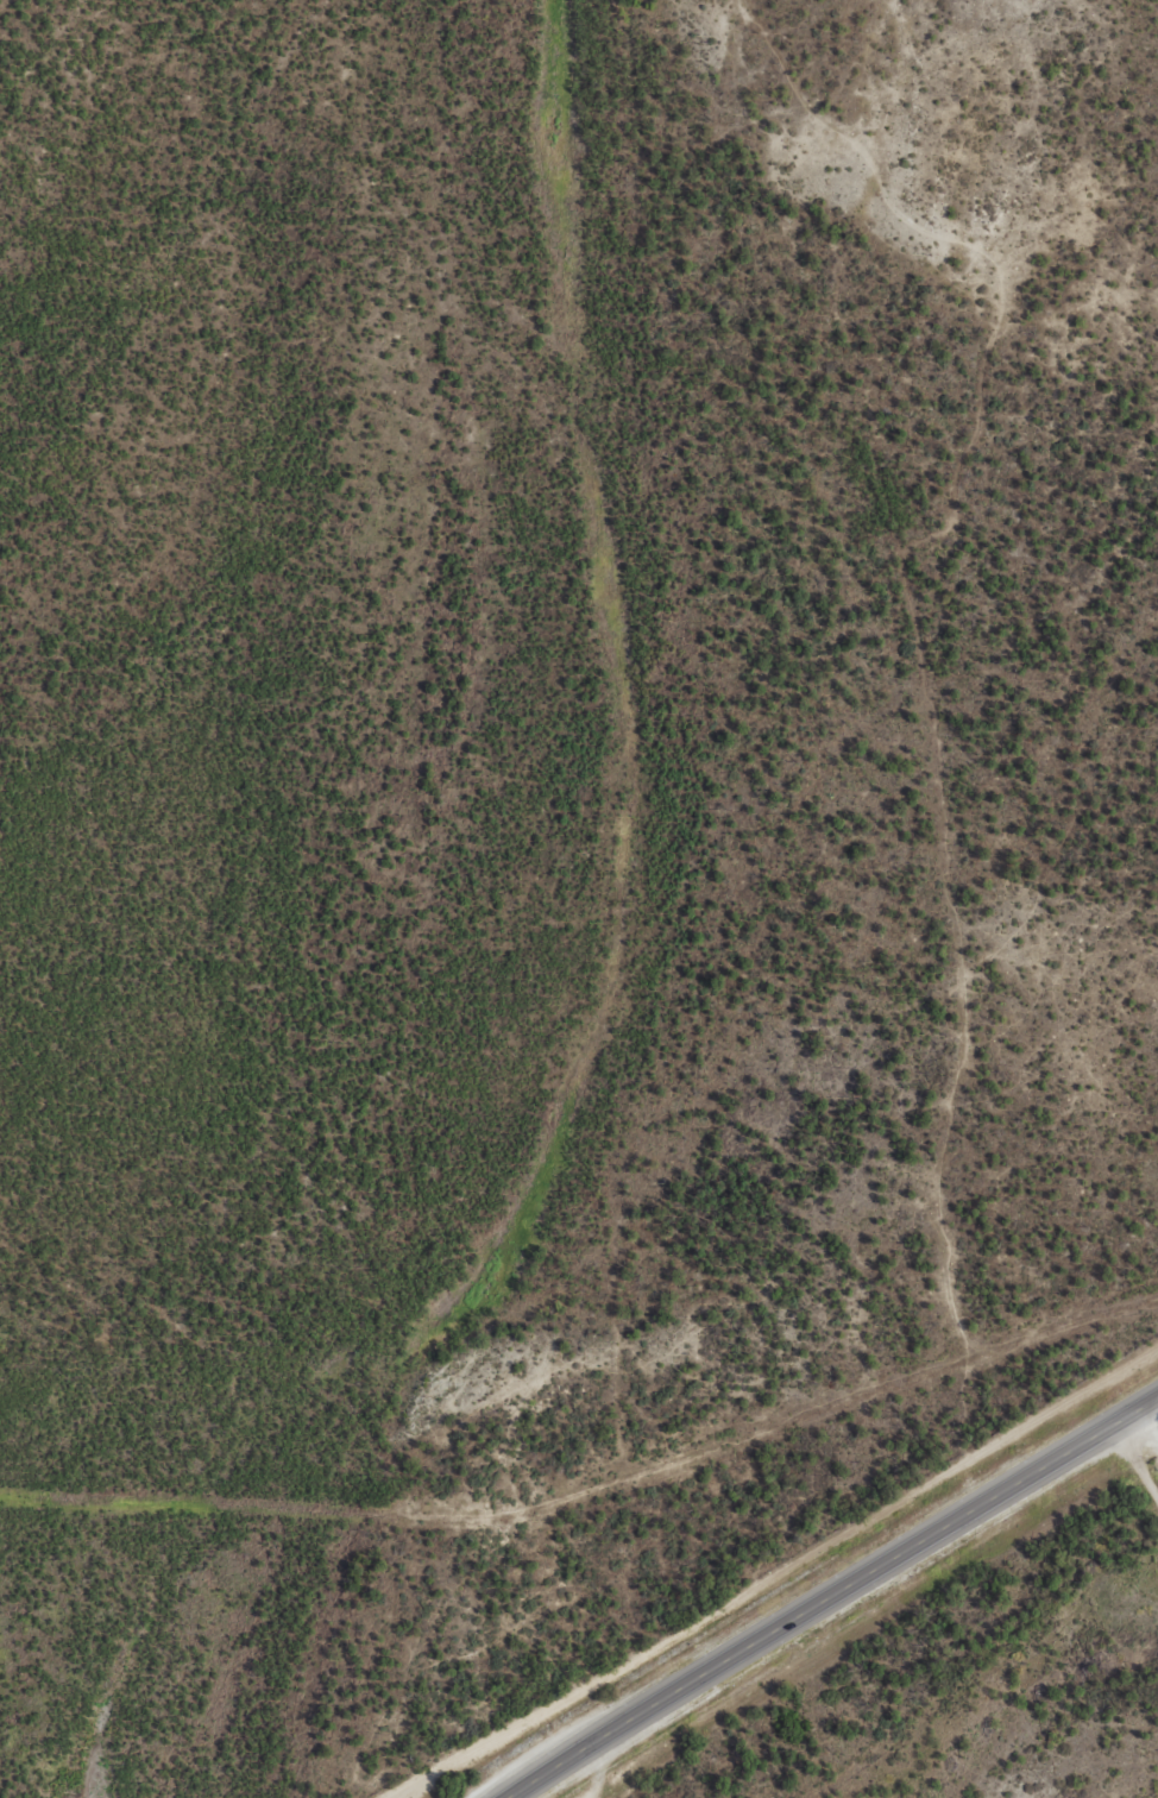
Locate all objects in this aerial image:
road: (1134, 1461)
road: (848, 1591)

